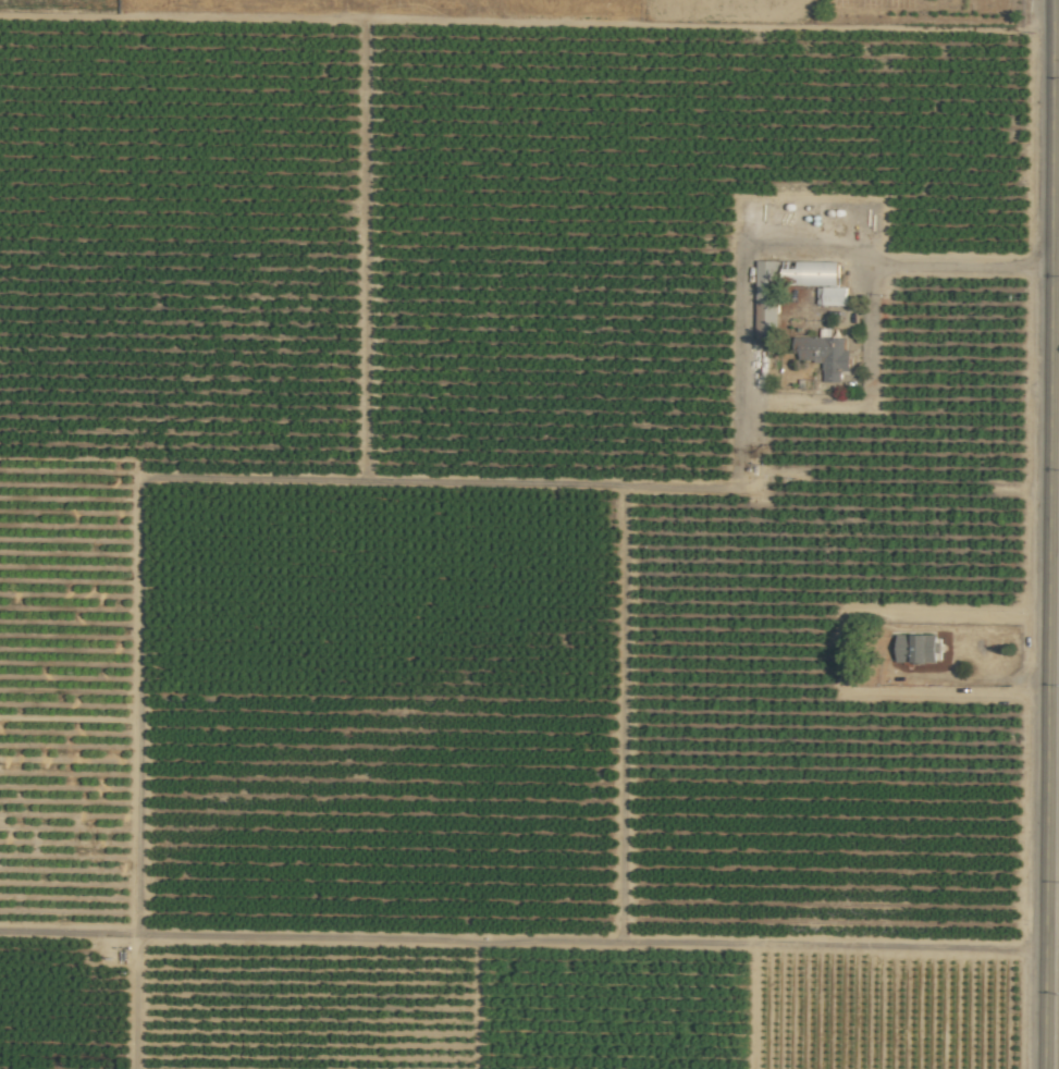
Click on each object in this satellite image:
road: (920, 268)
building: (832, 295)
building: (824, 354)
road: (1048, 533)
building: (916, 648)
road: (522, 942)

